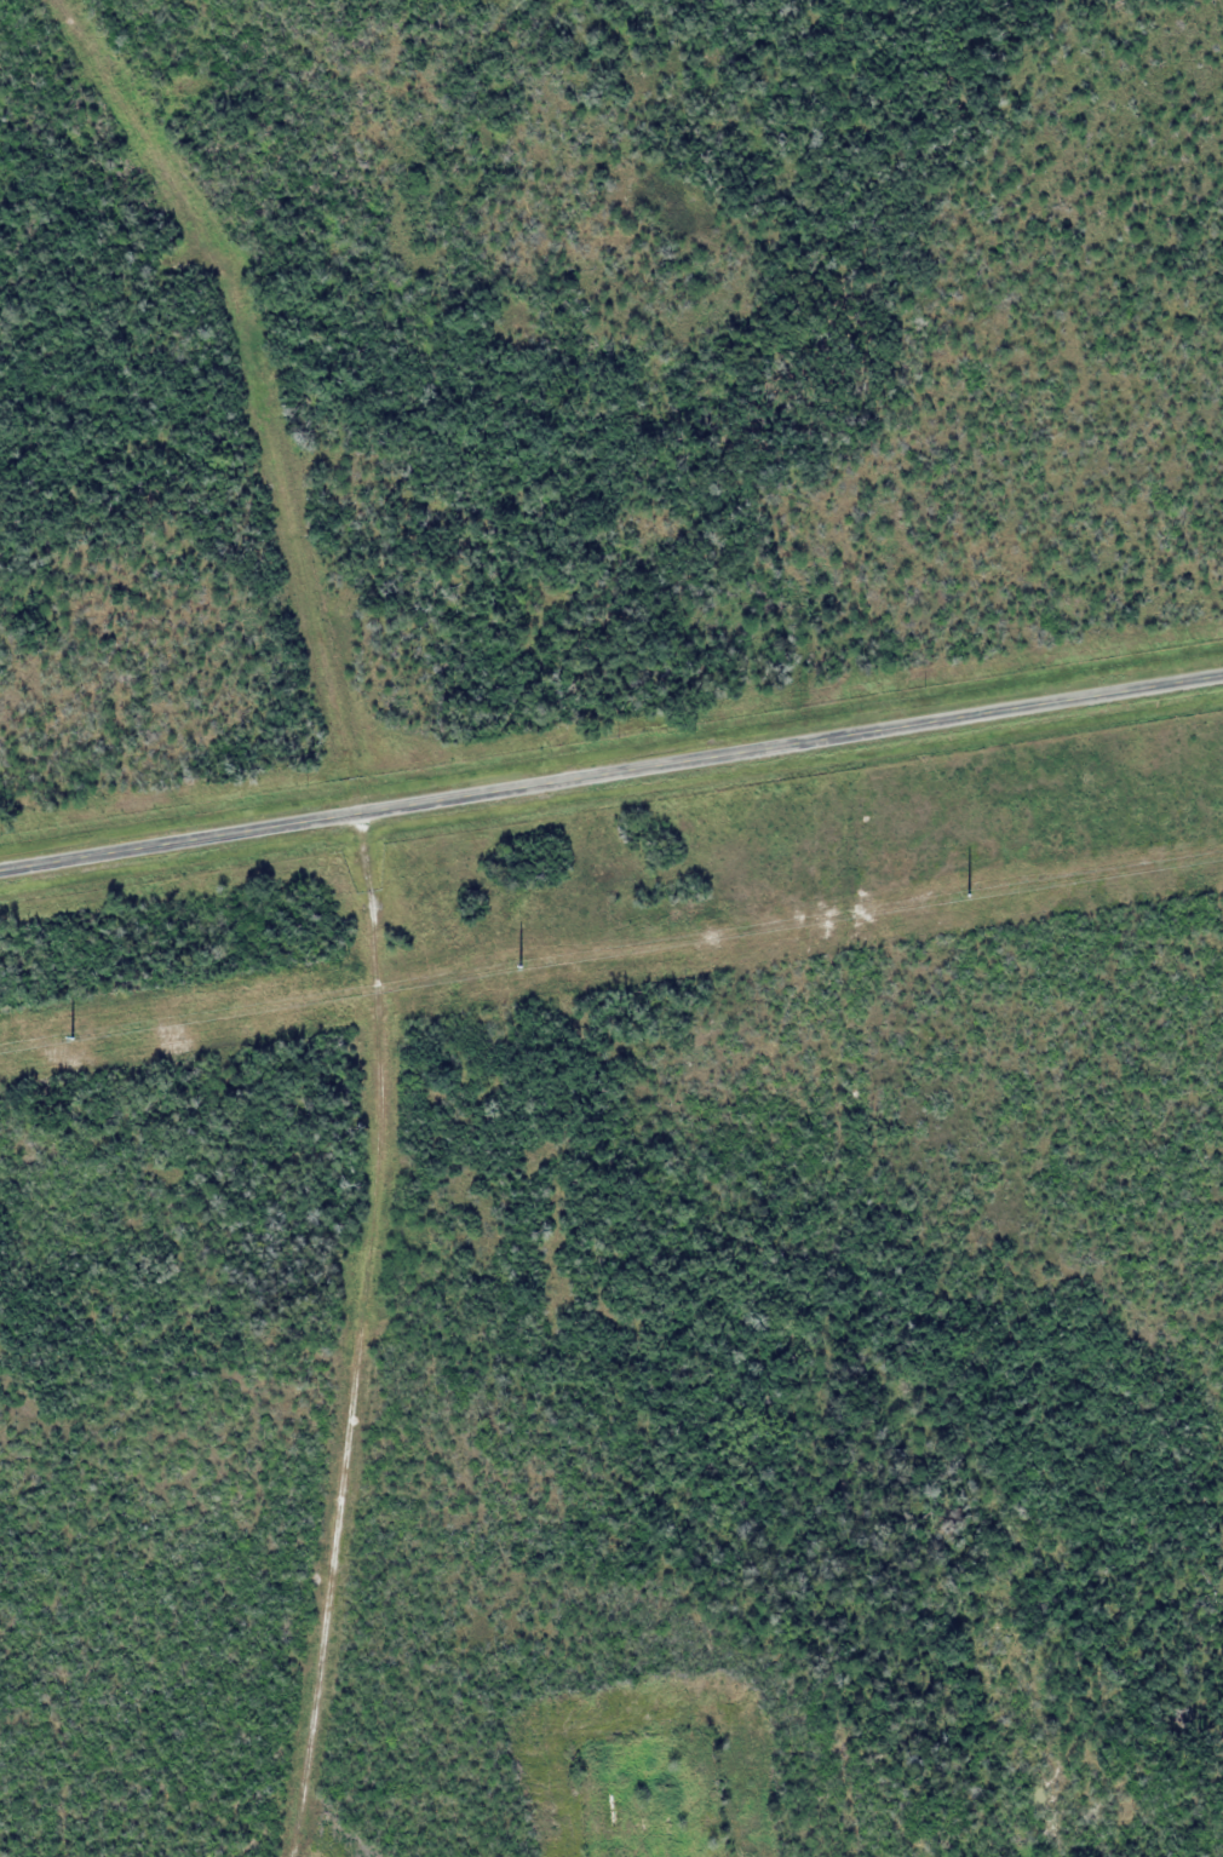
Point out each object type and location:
road: (611, 770)
power tower: (957, 896)
road: (355, 902)
power tower: (507, 967)
power tower: (58, 1040)

